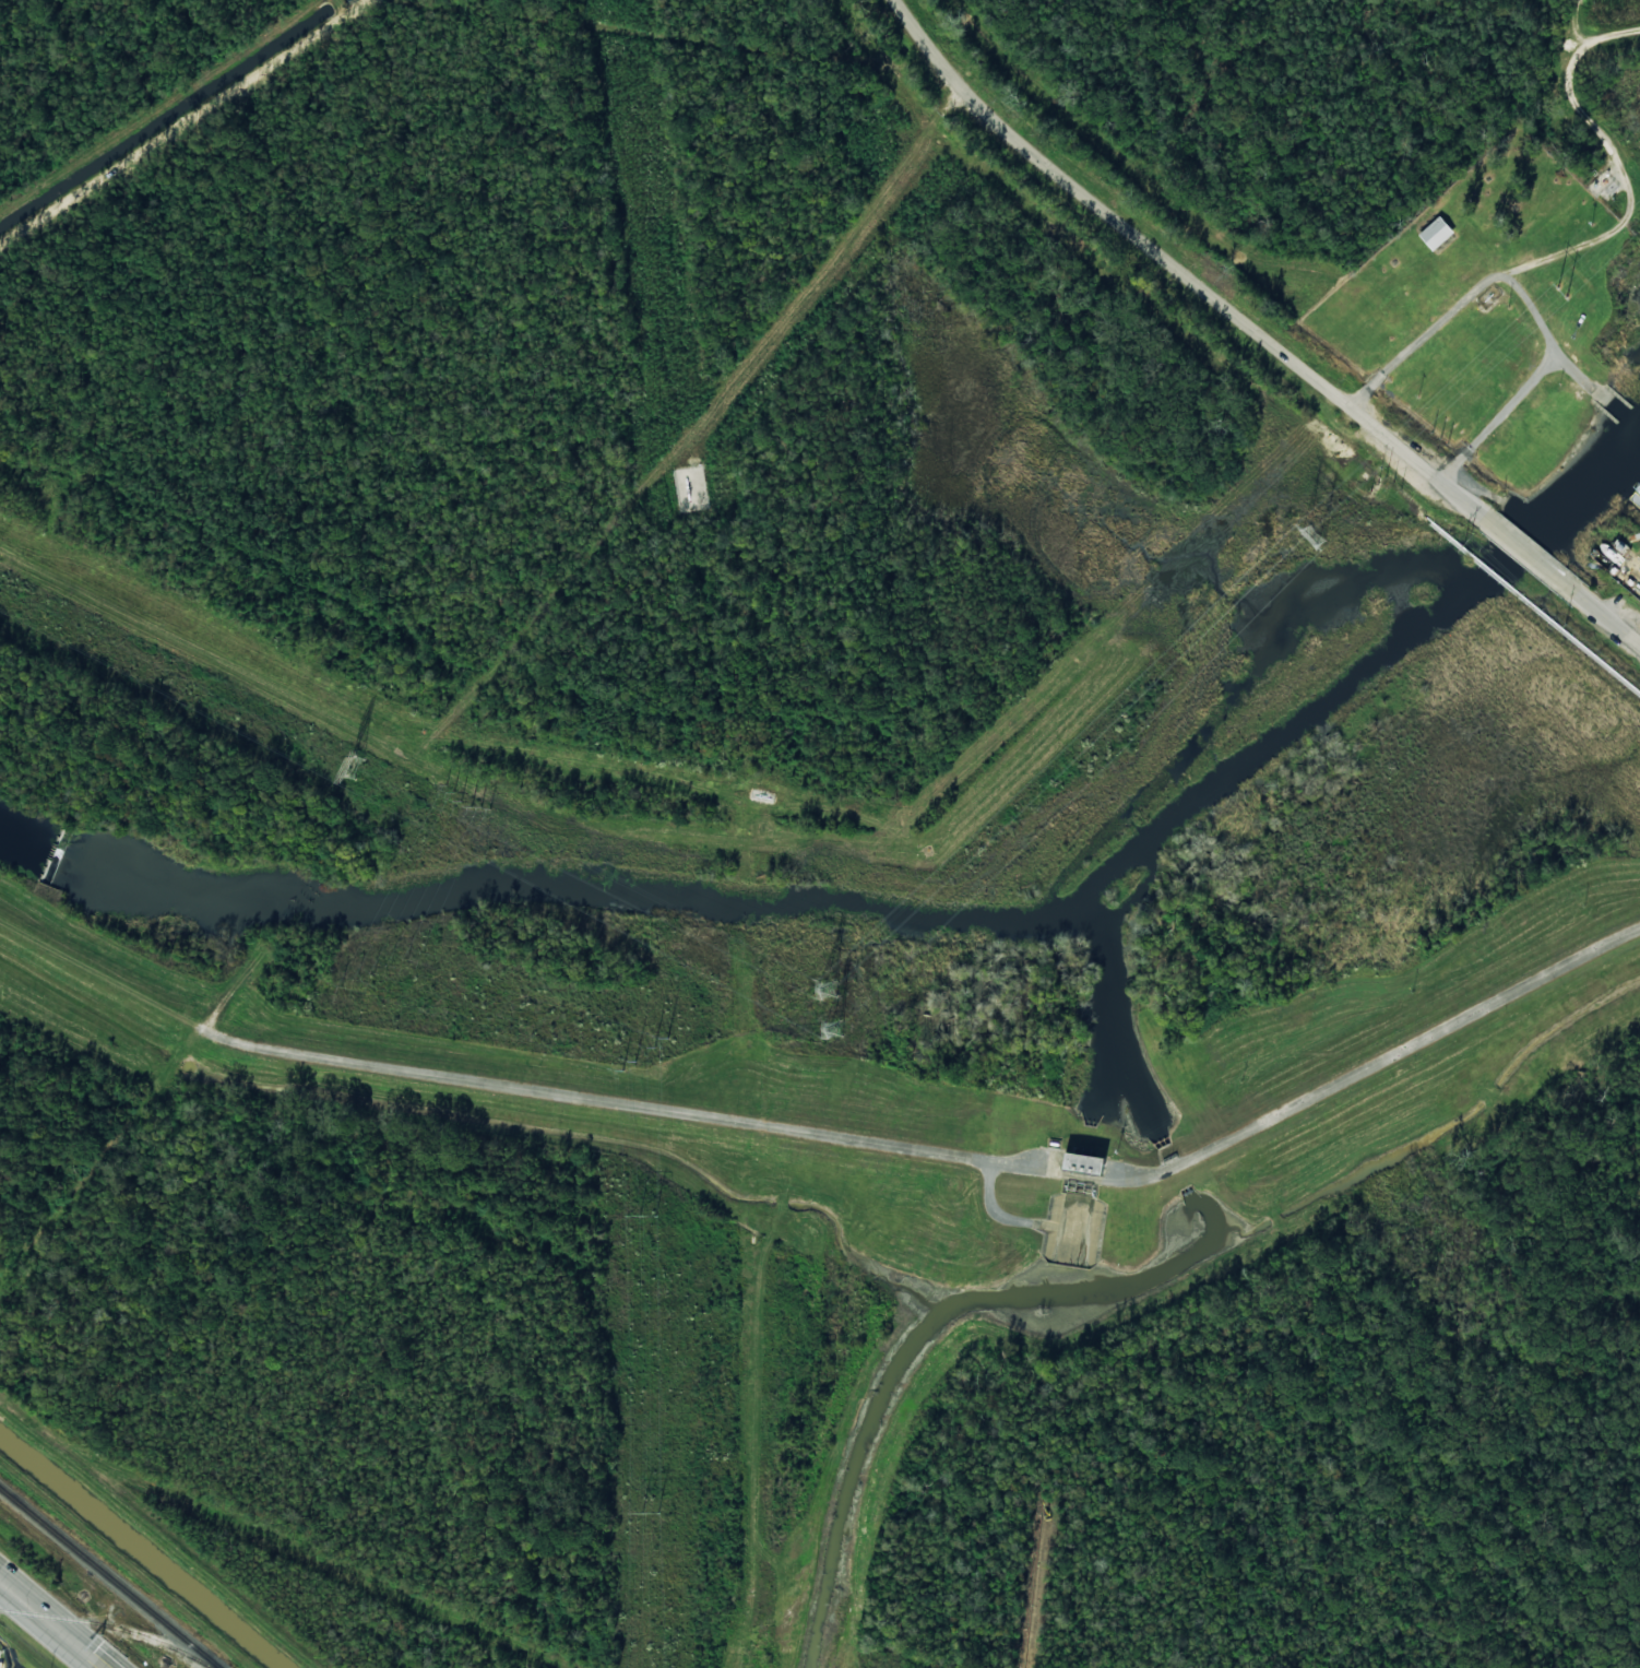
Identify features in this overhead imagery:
building: (1436, 233)
road: (1174, 261)
building: (1516, 344)
road: (643, 480)
power tower: (1314, 537)
road: (1516, 541)
road: (1599, 613)
power tower: (358, 769)
road: (231, 974)
power tower: (831, 991)
road: (941, 1150)
building: (1084, 1162)
power tower: (644, 1216)
power tower: (650, 1513)
railway: (110, 1577)
road: (54, 1622)
railway: (108, 1625)

